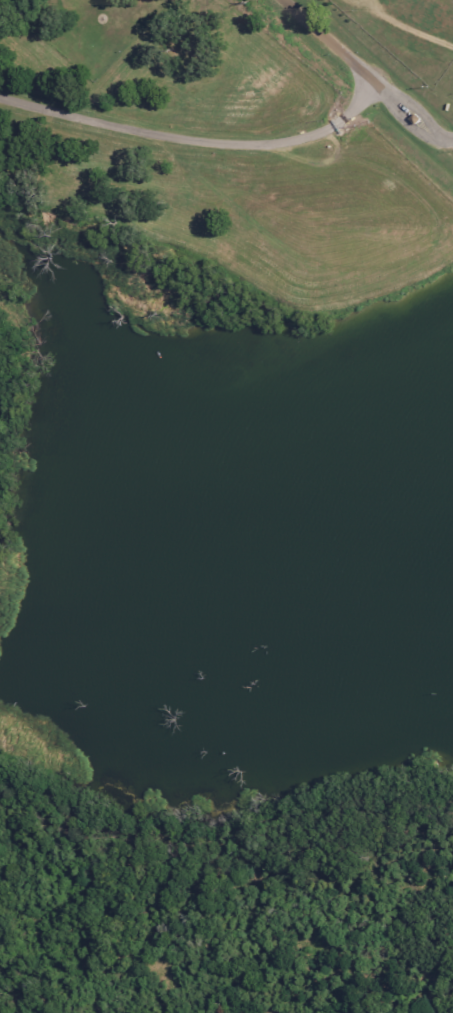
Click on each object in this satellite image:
road: (327, 34)
road: (395, 102)
road: (197, 141)
park: (242, 153)

